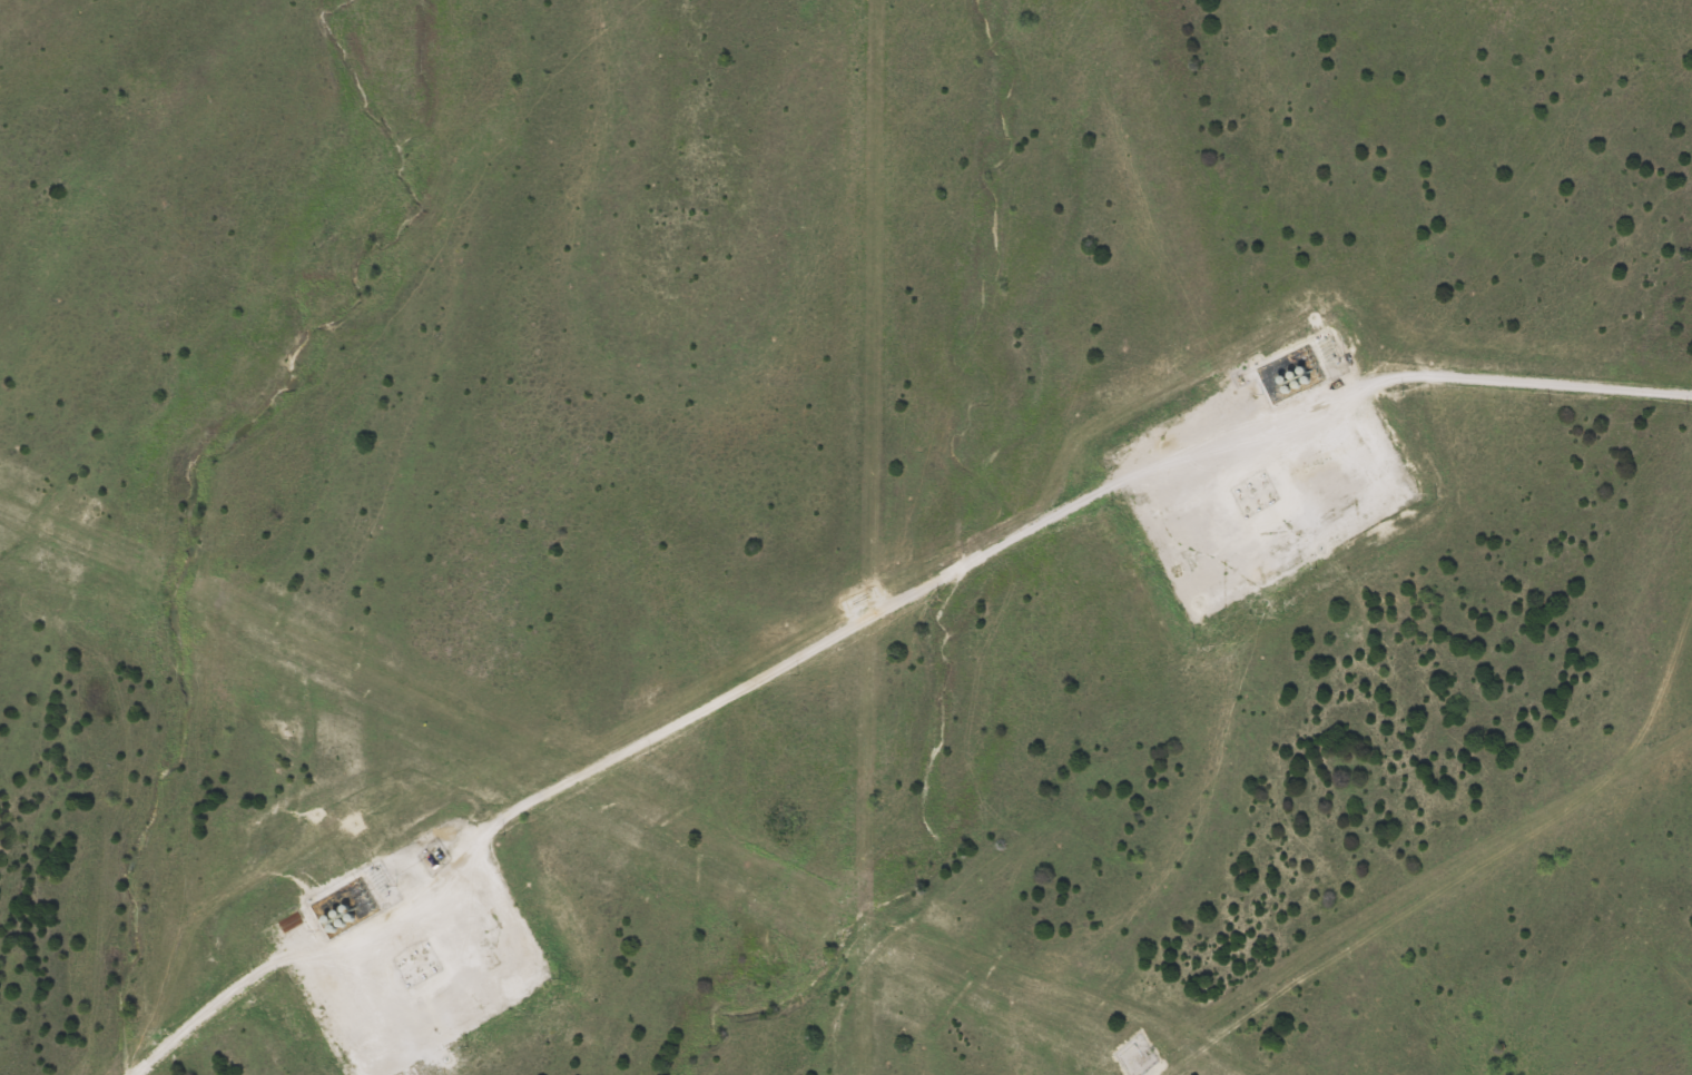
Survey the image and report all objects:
road: (1521, 375)

